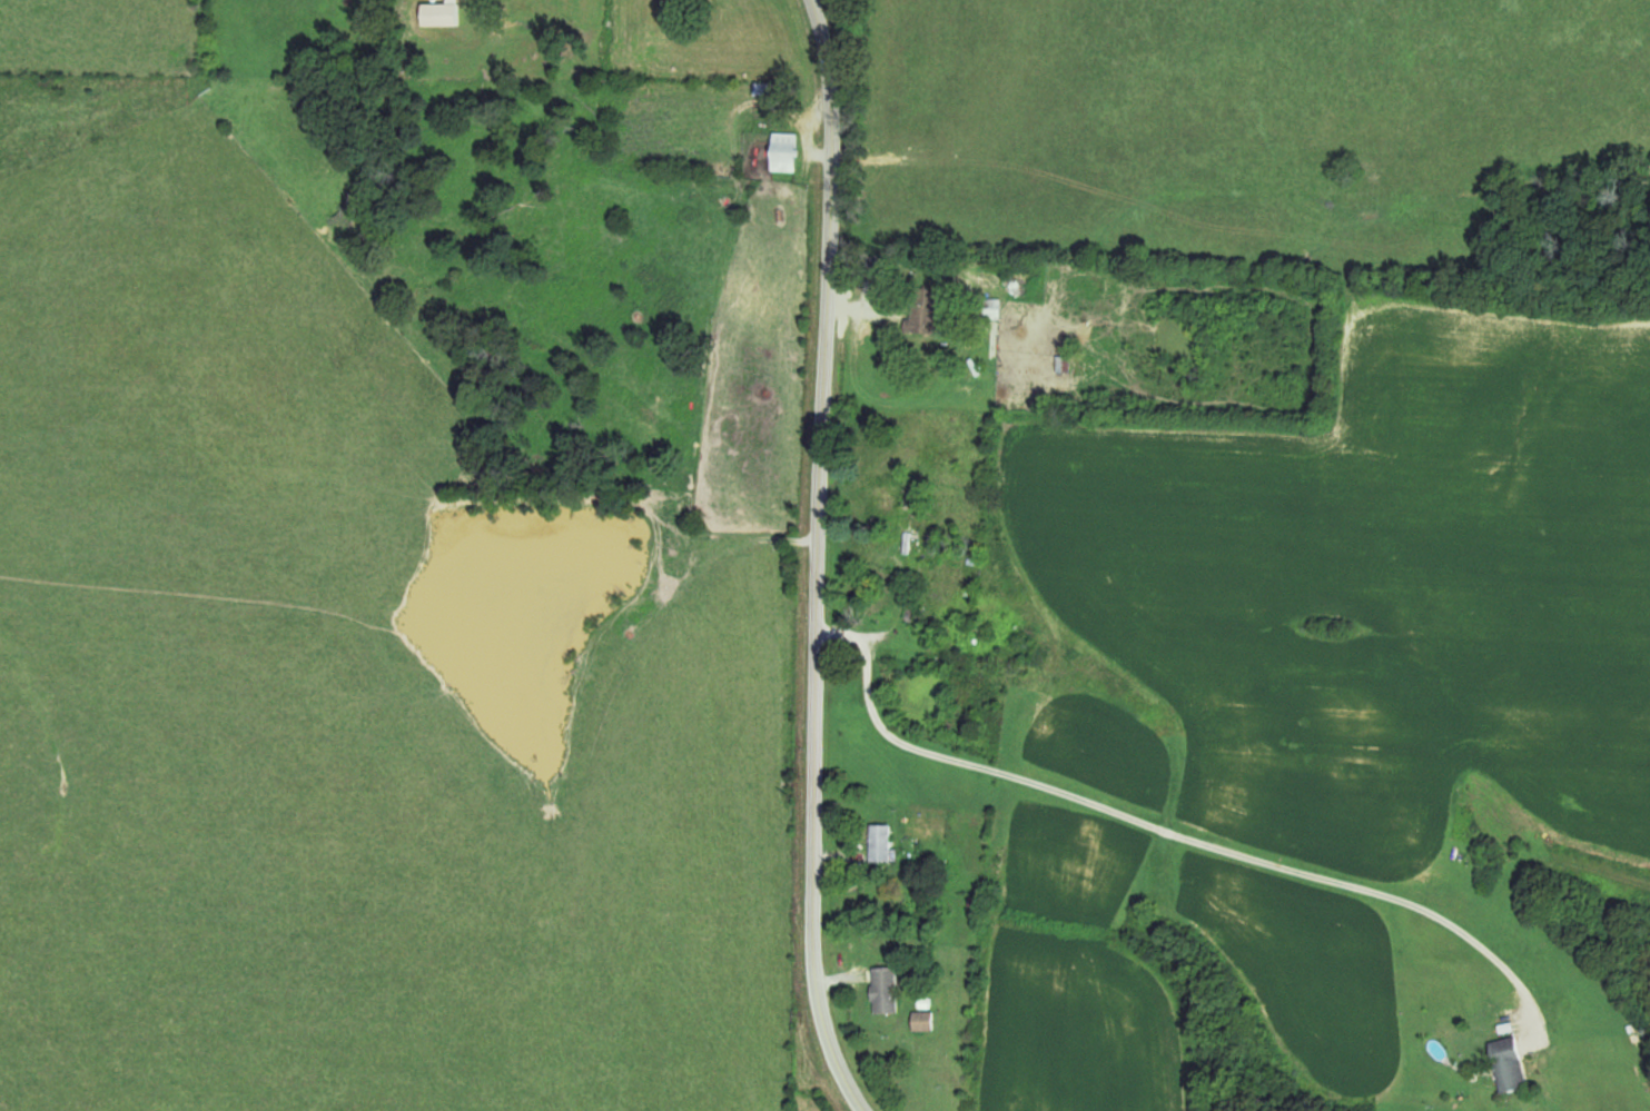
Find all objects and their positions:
building: (770, 89)
building: (787, 151)
building: (920, 310)
building: (893, 497)
building: (910, 535)
road: (819, 557)
road: (1169, 829)
building: (881, 842)
building: (886, 989)
building: (925, 1020)
building: (1510, 1063)

